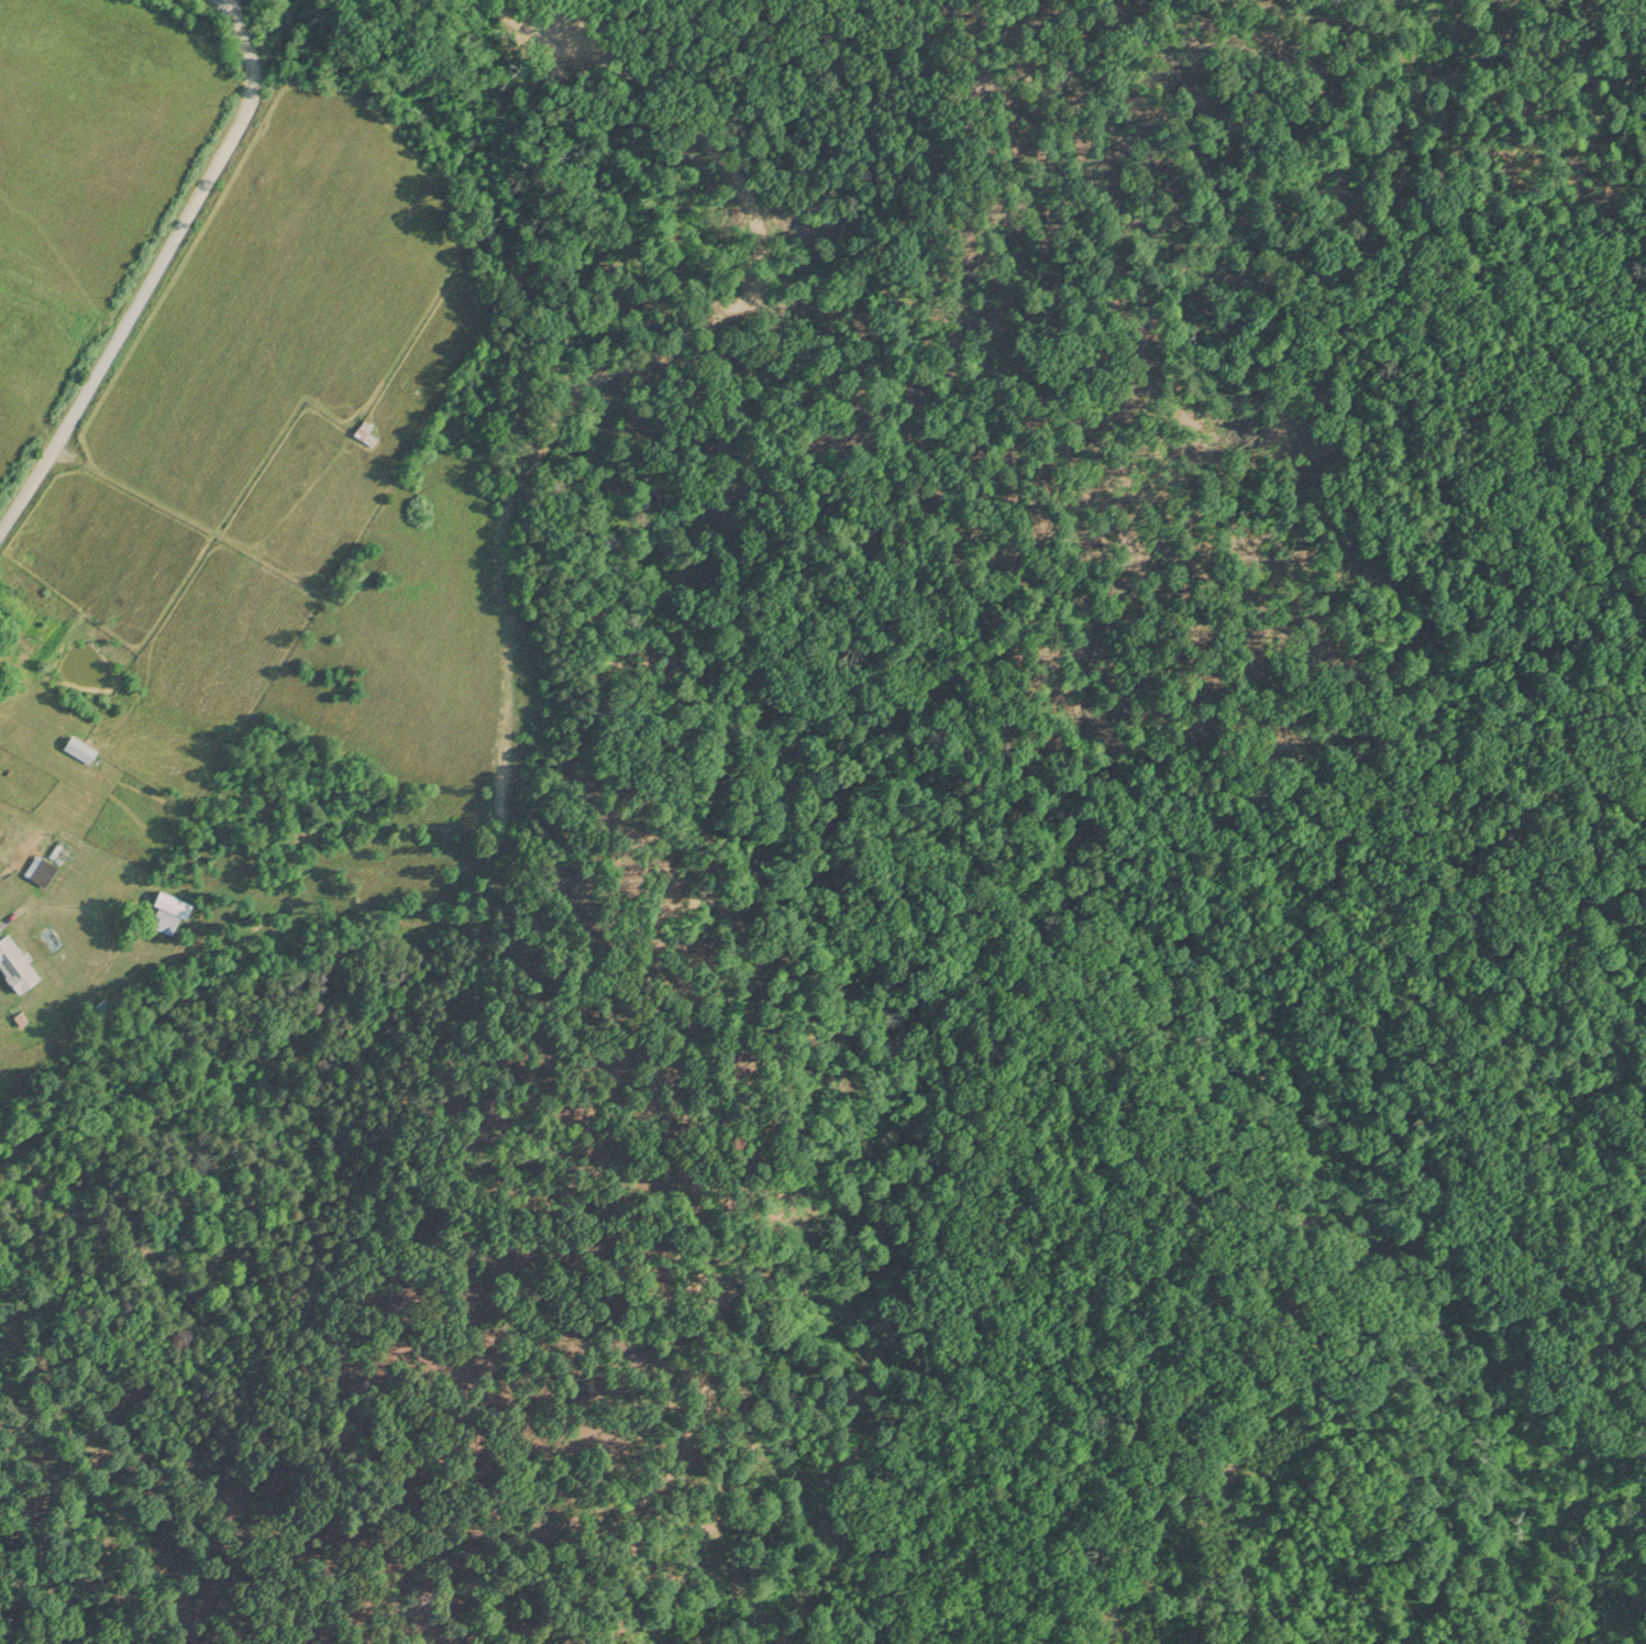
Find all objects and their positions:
road: (156, 272)
building: (366, 432)
building: (80, 744)
building: (41, 865)
building: (174, 900)
road: (4, 914)
building: (16, 960)

